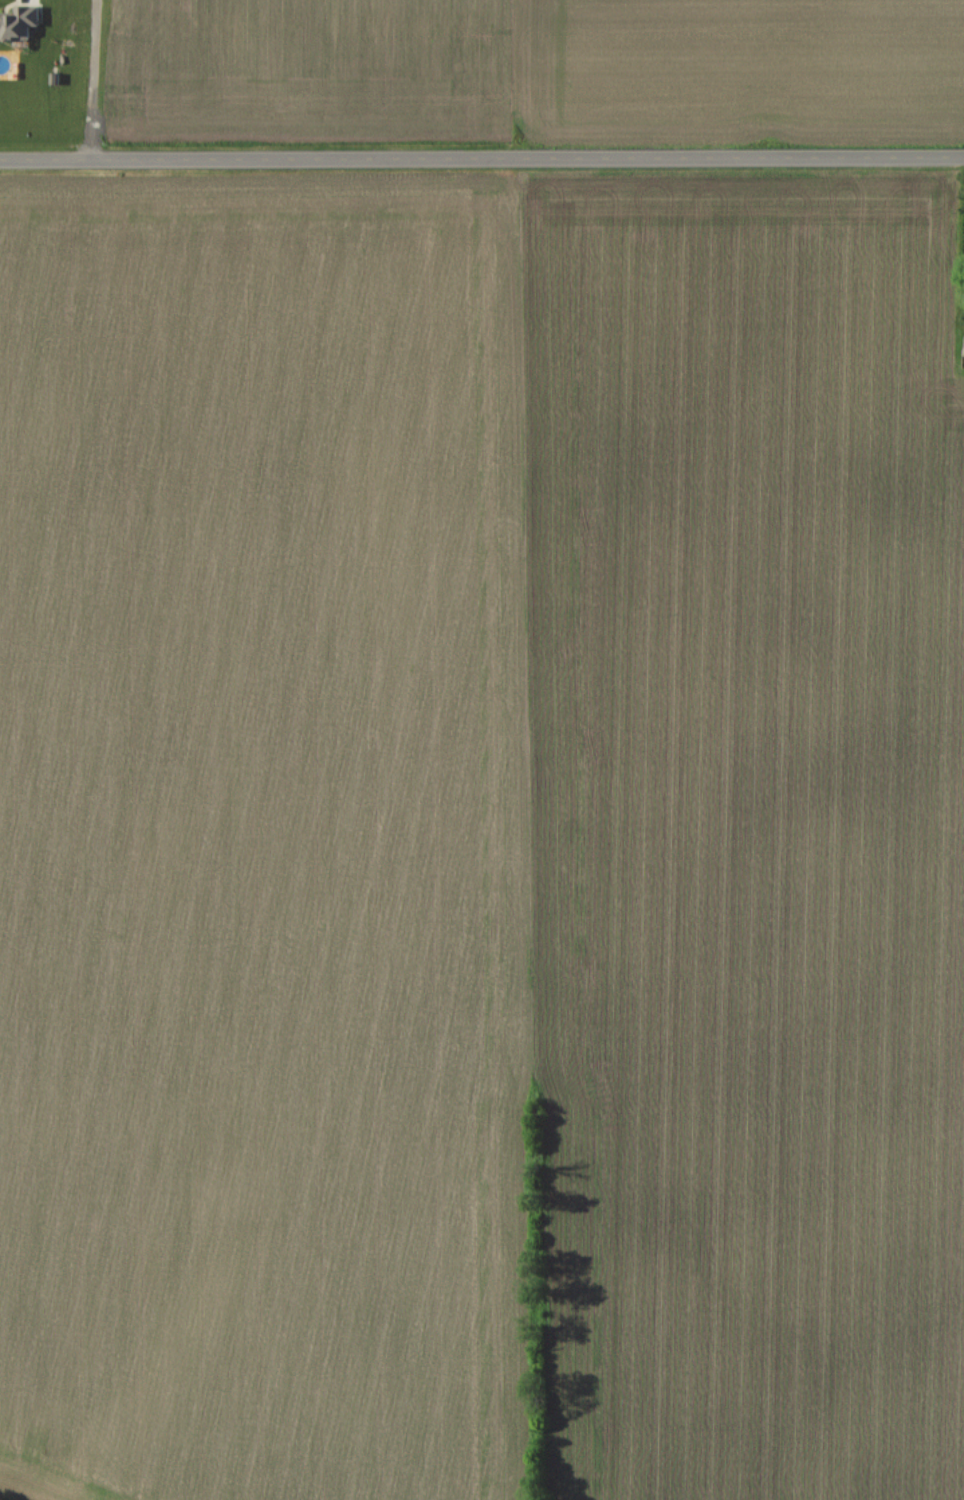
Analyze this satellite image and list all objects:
building: (18, 21)
road: (94, 79)
road: (481, 158)

